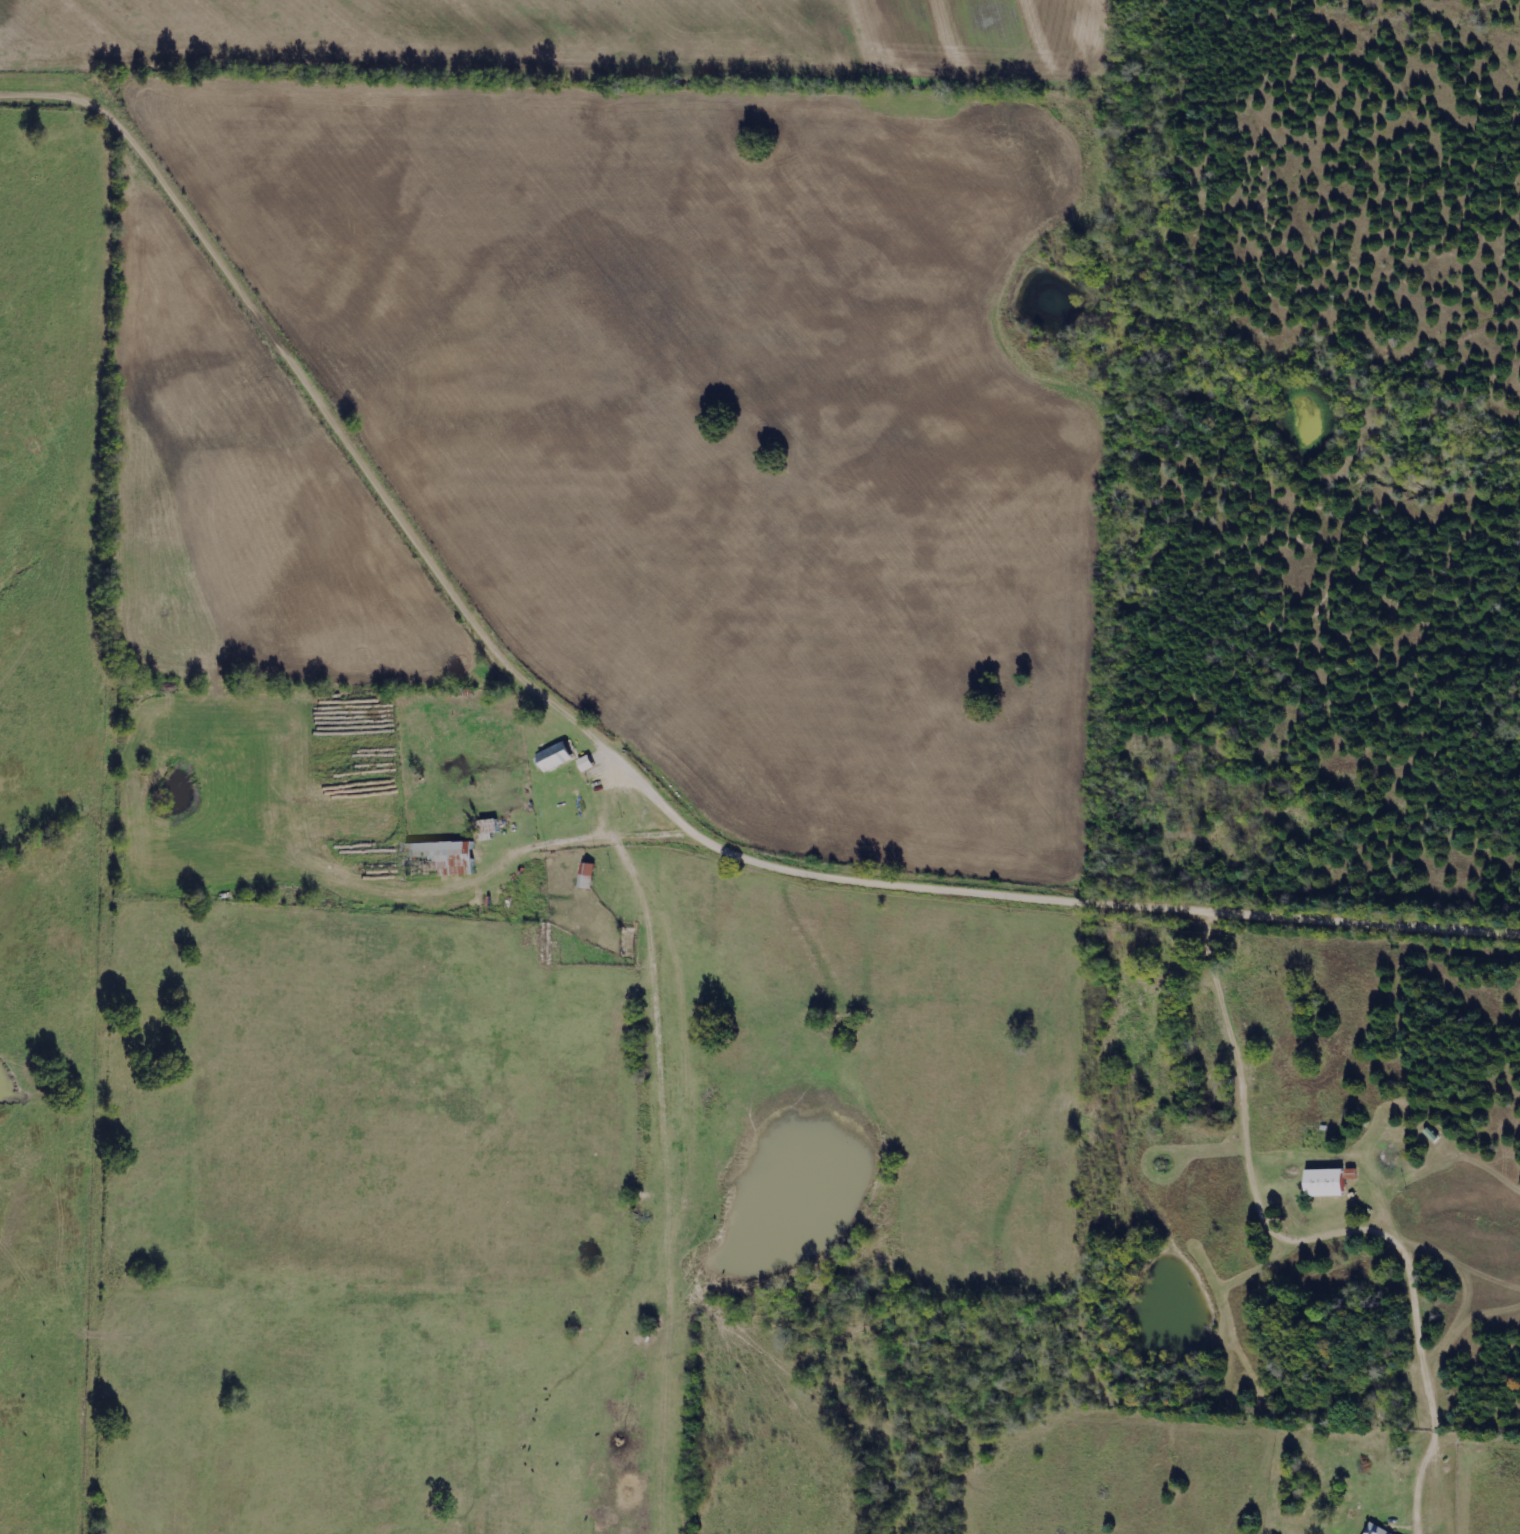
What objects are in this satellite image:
road: (488, 578)
building: (556, 756)
building: (587, 763)
building: (448, 855)
road: (1304, 901)
building: (1327, 1181)
road: (1310, 1238)
building: (1378, 1530)

